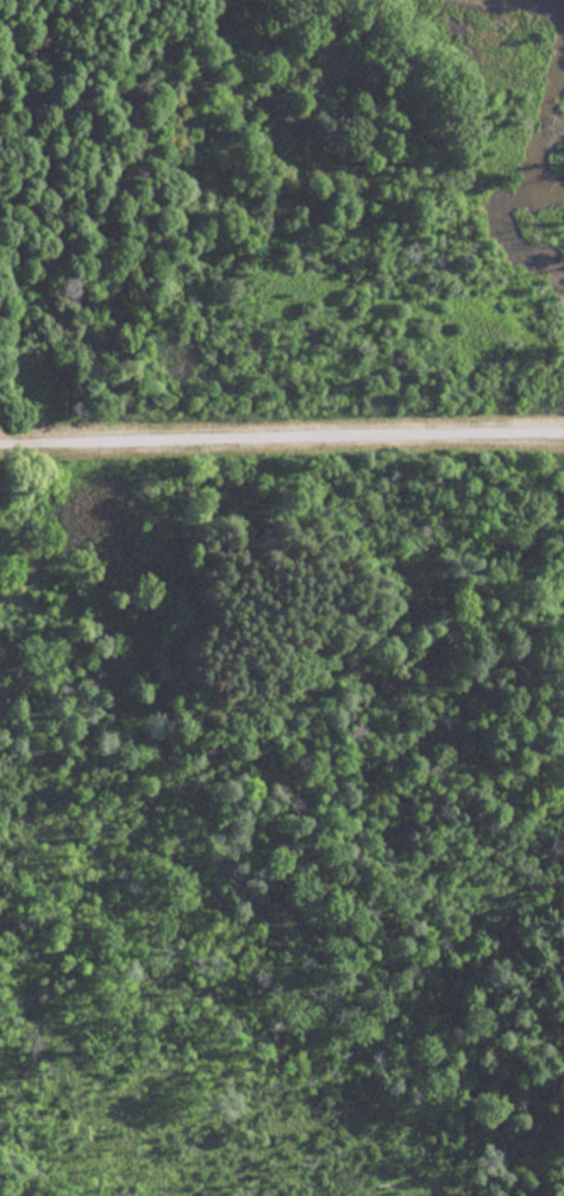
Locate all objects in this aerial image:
road: (281, 433)
park: (282, 597)

